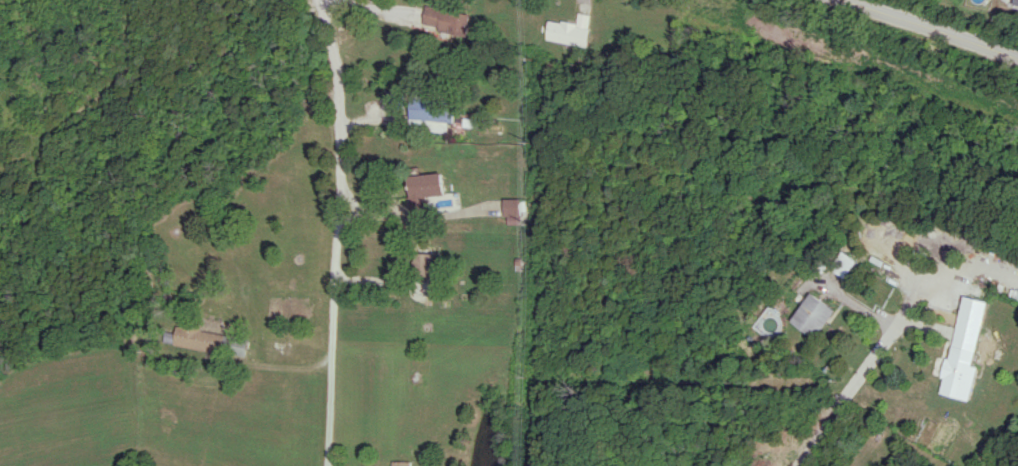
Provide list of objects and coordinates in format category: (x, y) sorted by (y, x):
building: (446, 19)
road: (933, 27)
building: (570, 30)
building: (424, 189)
building: (513, 210)
road: (337, 231)
building: (426, 264)
building: (843, 264)
building: (811, 314)
building: (200, 339)
building: (965, 349)
road: (857, 374)
building: (401, 463)

